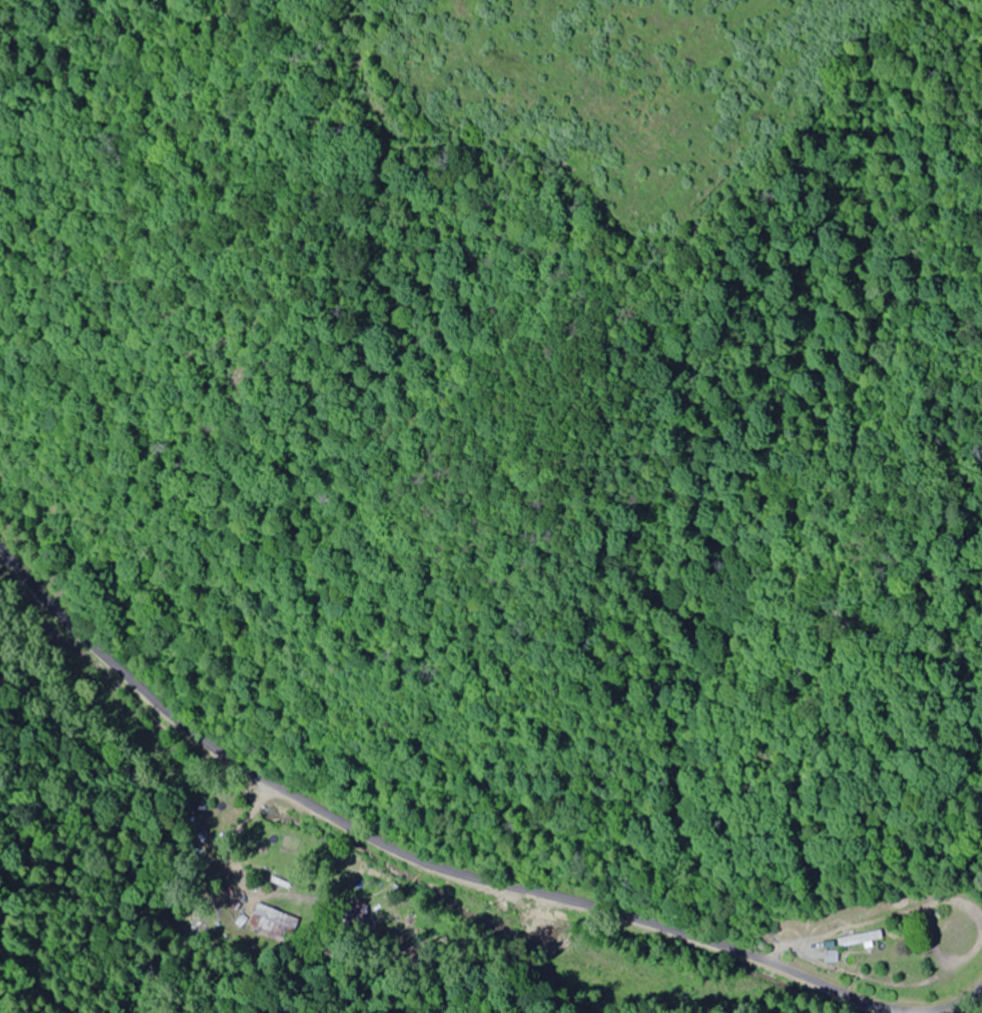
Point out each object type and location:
road: (472, 865)
building: (275, 923)
building: (859, 940)
building: (829, 957)
road: (570, 959)

